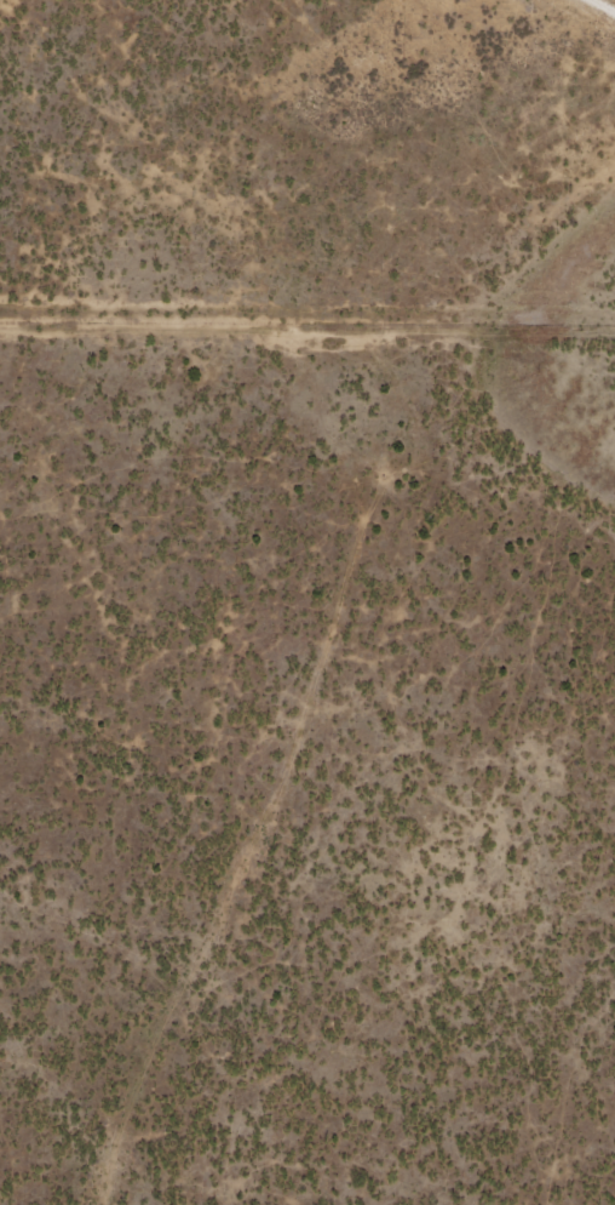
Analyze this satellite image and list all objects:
road: (527, 29)
road: (354, 319)

